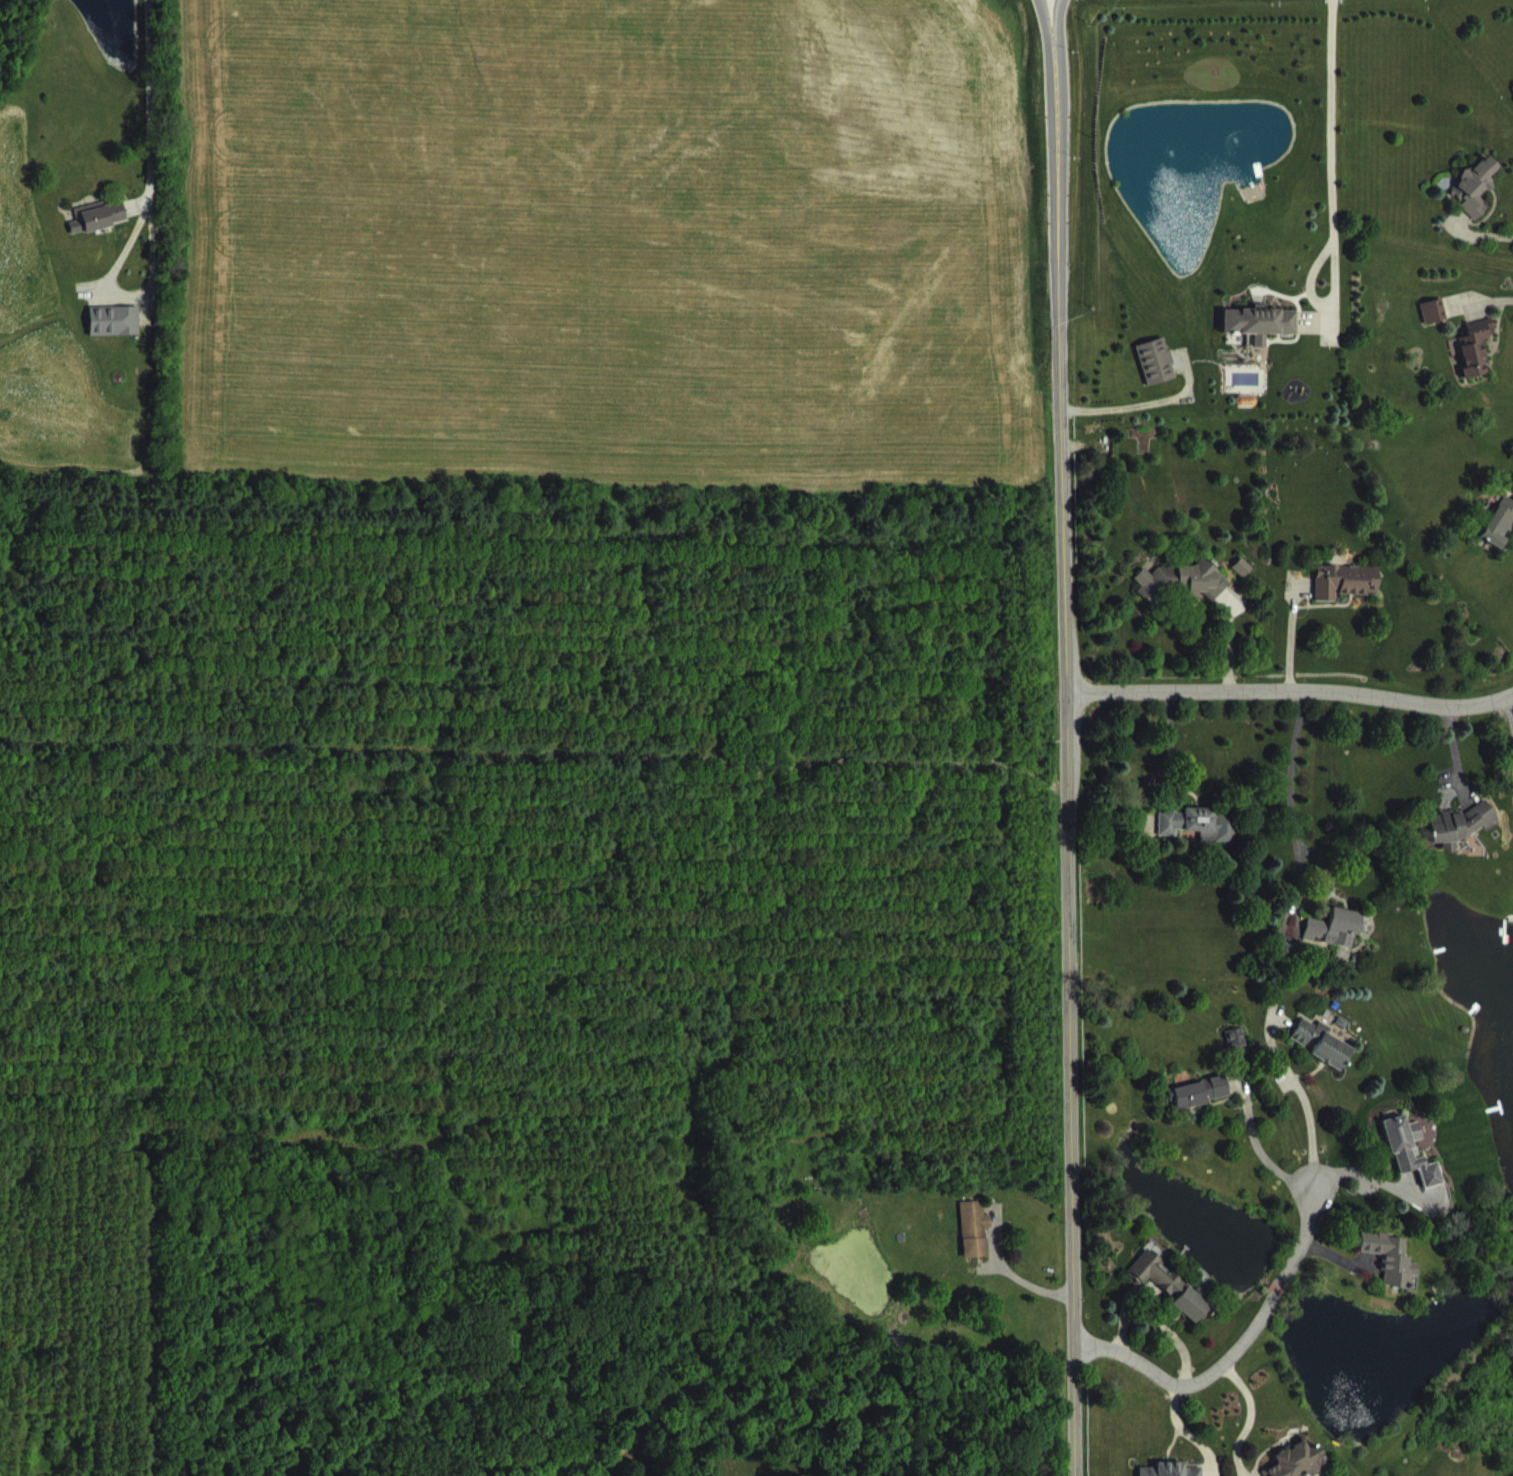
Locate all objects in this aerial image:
road: (1044, 21)
road: (1057, 21)
road: (148, 101)
road: (1329, 119)
building: (1478, 202)
building: (102, 232)
road: (1486, 233)
road: (1317, 302)
building: (1436, 326)
building: (118, 337)
building: (1263, 339)
building: (1478, 363)
building: (1159, 376)
road: (1134, 404)
building: (1250, 415)
building: (1501, 539)
building: (1184, 596)
building: (1347, 596)
road: (1289, 634)
road: (1293, 691)
road: (1509, 718)
road: (1070, 758)
road: (1289, 809)
building: (1202, 839)
building: (1463, 840)
building: (1338, 943)
building: (1325, 1057)
building: (1201, 1108)
road: (1308, 1130)
road: (1257, 1152)
building: (1413, 1166)
building: (978, 1244)
building: (1395, 1275)
building: (1159, 1288)
building: (1194, 1319)
road: (1234, 1349)
road: (1248, 1416)
building: (1305, 1468)

